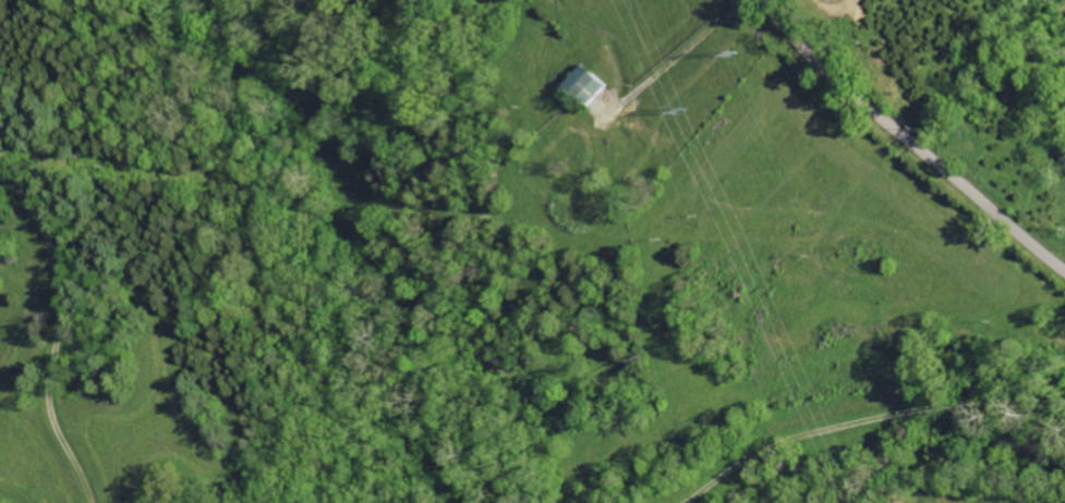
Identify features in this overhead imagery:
building: (590, 84)
road: (910, 140)

